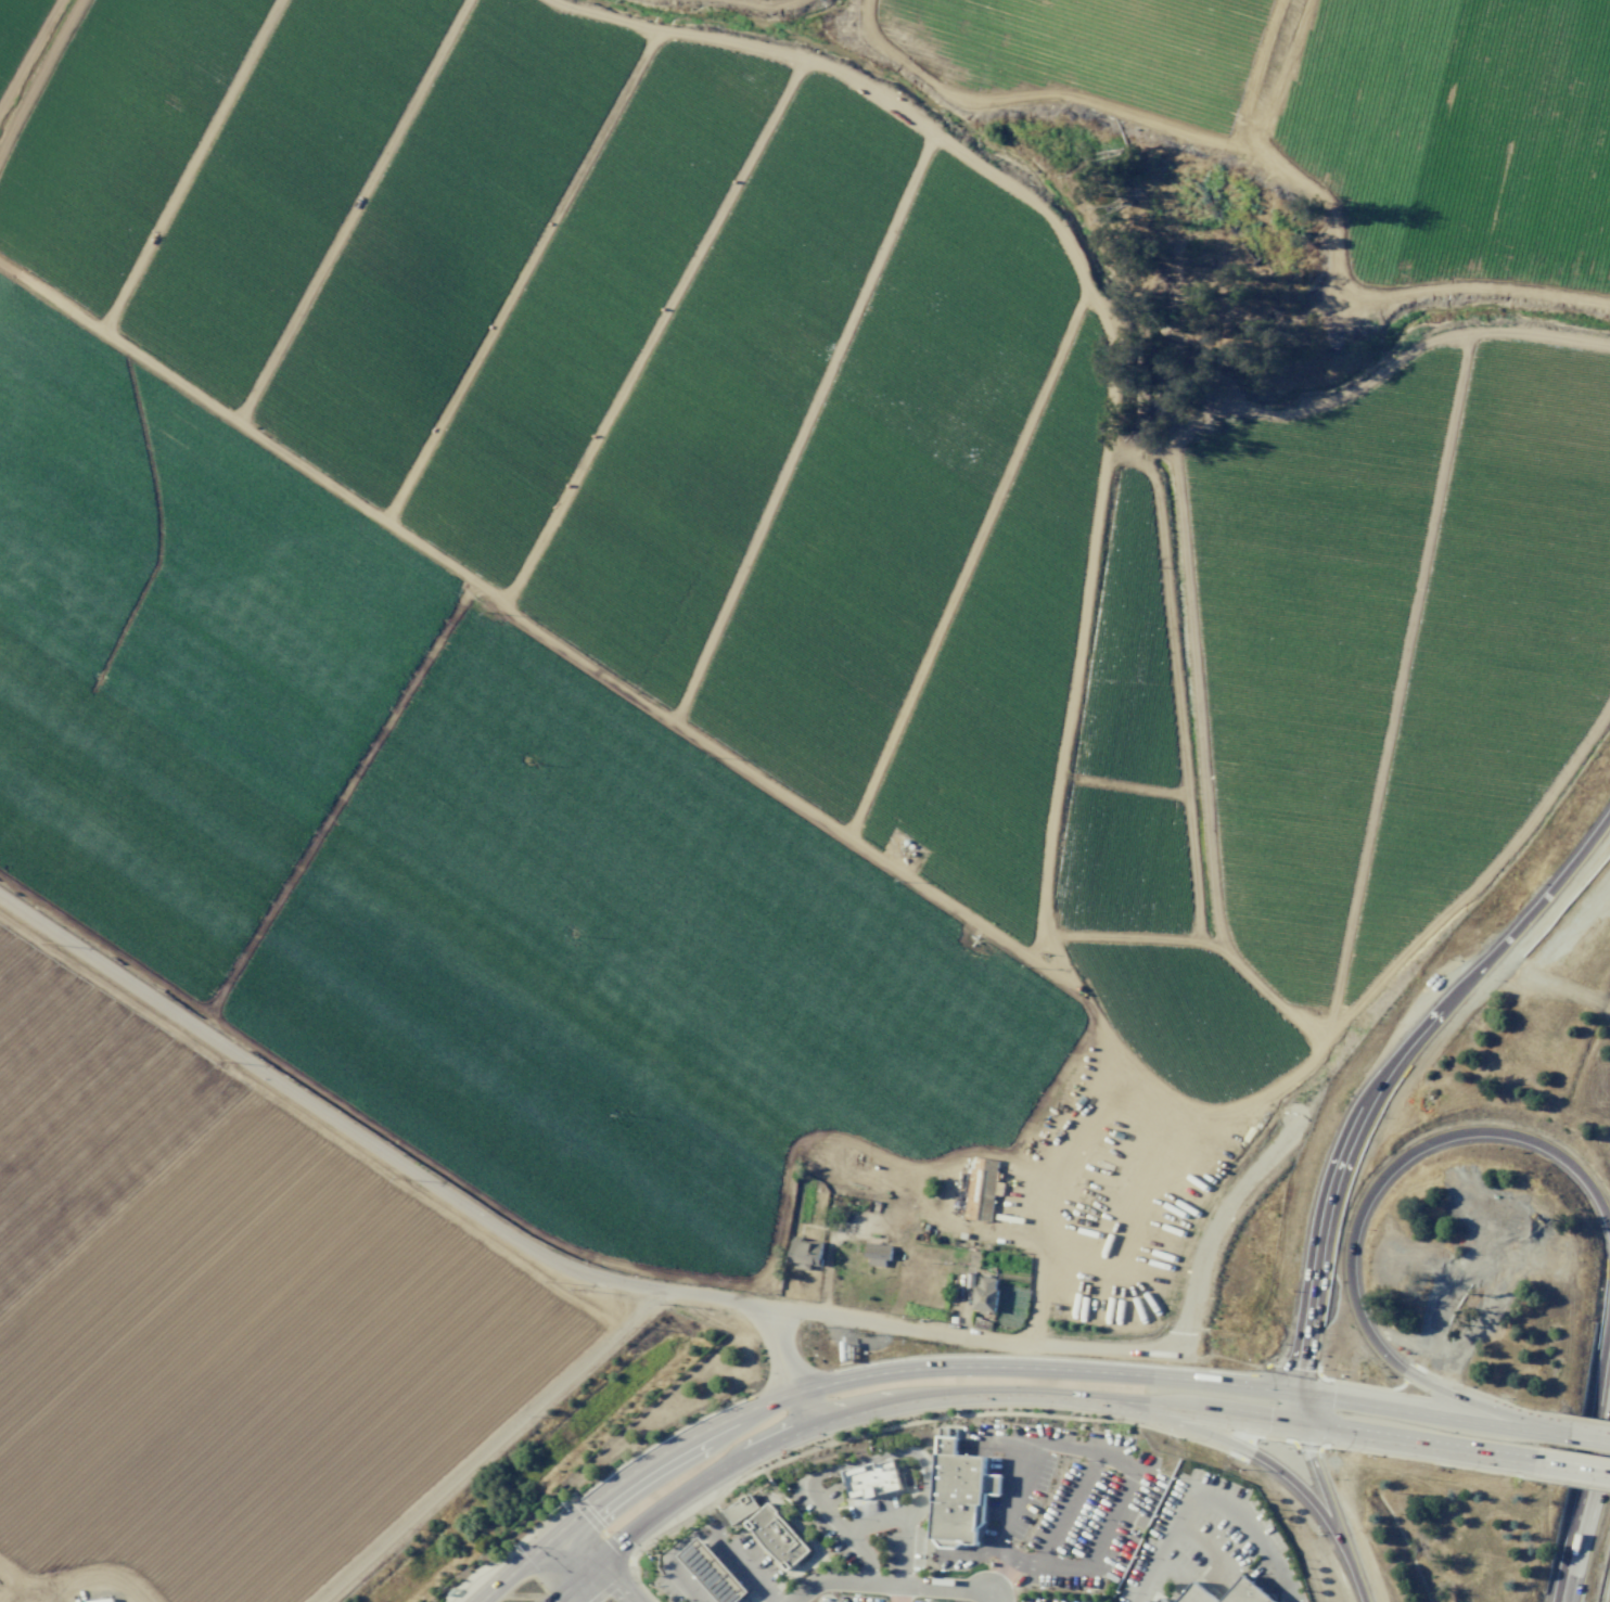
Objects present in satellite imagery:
road: (749, 7)
road: (1114, 51)
road: (33, 62)
road: (1258, 71)
road: (39, 78)
road: (1048, 97)
road: (924, 129)
road: (1531, 144)
road: (184, 163)
road: (348, 209)
road: (1333, 256)
road: (516, 275)
road: (652, 332)
road: (802, 430)
road: (1175, 459)
road: (970, 564)
crop: (717, 651)
road: (1393, 692)
road: (1072, 693)
road: (1174, 697)
road: (429, 840)
road: (855, 843)
road: (1188, 940)
road: (1394, 1076)
road: (432, 1165)
road: (934, 1168)
road: (418, 1176)
building: (981, 1189)
road: (1057, 1193)
road: (1136, 1218)
road: (1358, 1226)
building: (805, 1254)
building: (876, 1255)
building: (984, 1295)
road: (1097, 1350)
road: (928, 1368)
road: (1109, 1373)
road: (1224, 1384)
traffic signals: (1295, 1396)
road: (934, 1398)
road: (1108, 1400)
road: (1300, 1410)
road: (1226, 1412)
road: (1597, 1412)
road: (1432, 1415)
traffic signals: (1305, 1425)
road: (1589, 1437)
road: (1419, 1443)
road: (490, 1445)
road: (1227, 1446)
road: (906, 1451)
road: (1113, 1460)
road: (1572, 1466)
road: (624, 1478)
building: (871, 1478)
building: (958, 1494)
road: (1586, 1495)
road: (669, 1502)
building: (739, 1509)
road: (740, 1509)
road: (1068, 1509)
road: (1333, 1514)
road: (878, 1522)
road: (716, 1523)
road: (839, 1525)
parking lot: (861, 1529)
traffic signals: (554, 1535)
road: (1250, 1535)
building: (776, 1536)
road: (809, 1541)
road: (1199, 1542)
road: (1162, 1546)
road: (902, 1554)
road: (668, 1561)
road: (598, 1563)
traffic signals: (598, 1563)
road: (740, 1565)
road: (565, 1571)
building: (711, 1572)
road: (1001, 1577)
road: (892, 1584)
traffic signals: (573, 1585)
building: (1245, 1592)
building: (1194, 1594)
building: (100, 1600)
building: (1162, 1600)

